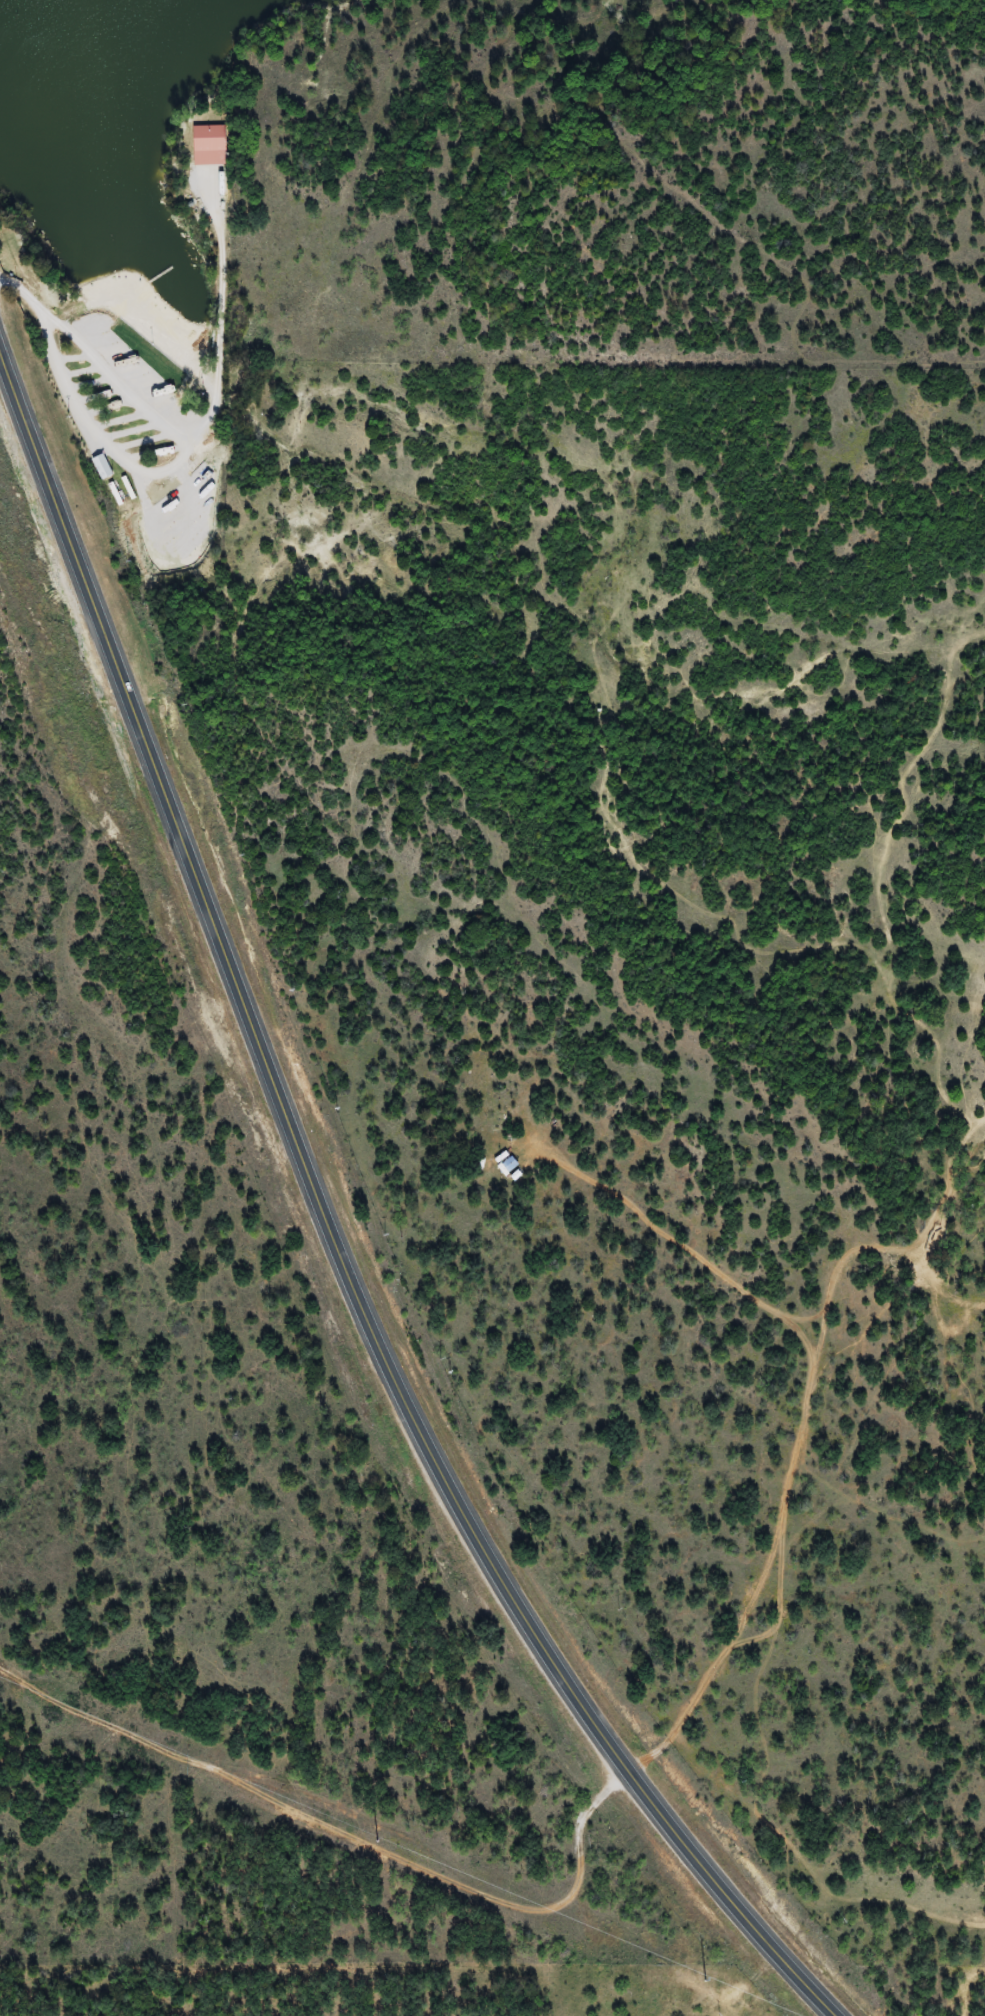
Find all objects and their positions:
building: (209, 146)
road: (196, 432)
building: (102, 468)
road: (325, 1230)
road: (339, 1850)

